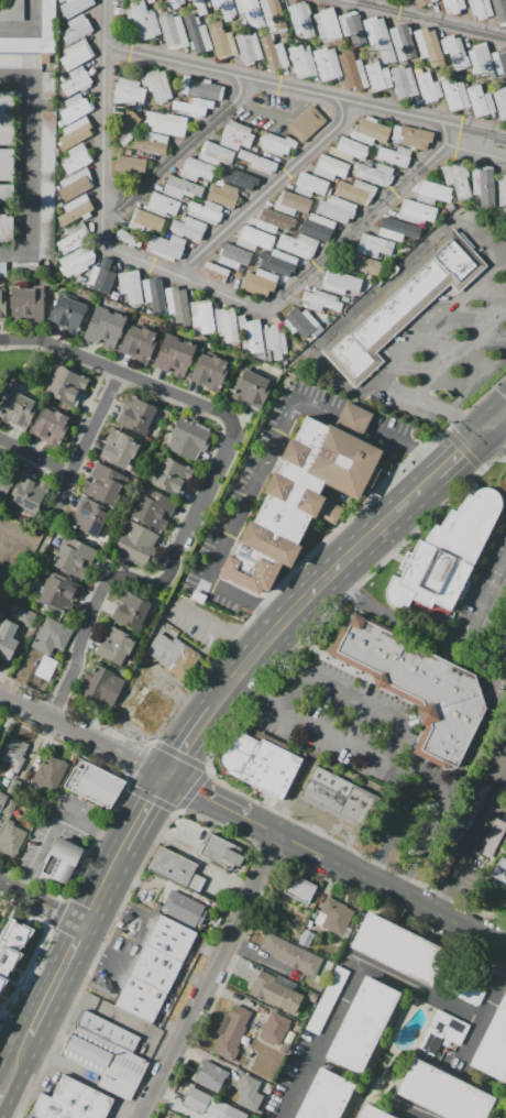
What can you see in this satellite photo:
building: (150, 1)
building: (424, 2)
building: (176, 3)
building: (453, 6)
building: (199, 7)
building: (74, 8)
building: (224, 8)
building: (481, 9)
building: (499, 10)
building: (250, 11)
building: (272, 14)
road: (422, 18)
building: (47, 19)
parking lot: (47, 19)
building: (300, 19)
building: (144, 21)
building: (327, 25)
road: (30, 28)
building: (76, 29)
building: (353, 29)
building: (173, 32)
building: (196, 34)
building: (380, 39)
building: (221, 40)
building: (402, 42)
building: (428, 46)
building: (248, 47)
building: (454, 52)
building: (273, 53)
building: (76, 55)
building: (481, 59)
building: (20, 61)
parking lot: (20, 61)
building: (300, 61)
building: (326, 63)
building: (499, 63)
building: (352, 70)
building: (377, 76)
building: (75, 80)
building: (403, 81)
road: (273, 84)
building: (48, 85)
parking lot: (48, 85)
building: (156, 86)
building: (428, 87)
building: (205, 90)
building: (128, 92)
building: (454, 94)
building: (501, 100)
building: (480, 101)
building: (193, 107)
building: (75, 108)
building: (5, 118)
building: (306, 123)
building: (165, 125)
building: (125, 128)
building: (78, 131)
building: (370, 131)
road: (485, 131)
road: (457, 133)
building: (235, 135)
building: (411, 136)
building: (152, 143)
building: (276, 143)
building: (348, 150)
road: (483, 150)
road: (179, 151)
building: (216, 153)
building: (393, 155)
building: (76, 158)
building: (257, 161)
building: (7, 164)
building: (130, 164)
road: (29, 165)
building: (330, 167)
building: (196, 169)
building: (374, 173)
building: (237, 178)
building: (457, 178)
building: (46, 185)
parking lot: (46, 185)
building: (75, 185)
building: (310, 185)
building: (483, 185)
building: (182, 188)
road: (269, 188)
building: (355, 191)
building: (7, 193)
building: (431, 193)
building: (502, 194)
building: (223, 195)
building: (162, 204)
building: (293, 204)
building: (335, 208)
building: (75, 209)
building: (205, 211)
building: (417, 211)
building: (146, 220)
building: (273, 220)
building: (187, 228)
building: (318, 228)
building: (396, 228)
building: (5, 230)
building: (74, 238)
building: (128, 238)
building: (254, 239)
building: (298, 245)
building: (373, 245)
building: (165, 246)
building: (233, 256)
building: (76, 261)
building: (277, 262)
building: (362, 264)
building: (2, 268)
parking lot: (2, 268)
building: (24, 268)
parking lot: (24, 268)
building: (215, 272)
building: (101, 277)
building: (81, 278)
road: (195, 281)
building: (340, 282)
building: (258, 284)
building: (131, 286)
road: (380, 288)
building: (154, 295)
building: (321, 300)
building: (26, 303)
building: (178, 304)
building: (400, 305)
building: (2, 306)
building: (67, 315)
building: (201, 317)
building: (300, 322)
road: (439, 322)
building: (226, 326)
building: (105, 328)
building: (250, 335)
parking lot: (452, 337)
building: (275, 341)
building: (137, 343)
road: (459, 353)
building: (174, 357)
building: (209, 372)
road: (476, 383)
building: (66, 386)
building: (252, 387)
road: (393, 391)
road: (429, 405)
building: (19, 409)
building: (137, 414)
building: (352, 419)
road: (464, 419)
road: (494, 419)
building: (52, 428)
road: (494, 436)
road: (85, 438)
building: (187, 438)
building: (119, 448)
road: (460, 448)
road: (34, 456)
road: (267, 457)
building: (172, 476)
building: (5, 481)
building: (102, 483)
road: (421, 483)
road: (208, 484)
building: (309, 487)
building: (29, 493)
parking lot: (240, 503)
building: (152, 507)
building: (90, 518)
building: (135, 544)
building: (446, 555)
building: (73, 557)
building: (58, 594)
road: (301, 596)
road: (482, 600)
building: (131, 611)
building: (26, 618)
road: (218, 626)
road: (408, 628)
building: (51, 636)
building: (7, 639)
building: (114, 645)
building: (172, 654)
road: (504, 660)
building: (46, 668)
building: (101, 686)
building: (417, 686)
road: (354, 699)
road: (201, 717)
road: (323, 727)
road: (82, 734)
parking lot: (363, 747)
building: (13, 752)
road: (178, 753)
building: (261, 764)
building: (50, 774)
traffic signals: (165, 778)
building: (94, 785)
building: (334, 796)
road: (206, 797)
building: (2, 799)
building: (475, 800)
road: (148, 804)
building: (9, 809)
road: (58, 820)
parking lot: (75, 821)
road: (394, 829)
road: (427, 829)
road: (166, 835)
parking lot: (186, 837)
building: (492, 837)
building: (11, 838)
road: (128, 841)
road: (472, 845)
building: (221, 852)
building: (450, 853)
building: (61, 862)
building: (173, 866)
building: (497, 877)
road: (375, 883)
road: (105, 888)
building: (299, 889)
road: (43, 903)
building: (183, 909)
building: (334, 916)
building: (169, 939)
building: (306, 939)
building: (13, 949)
parking lot: (121, 952)
building: (293, 955)
building: (420, 960)
road: (370, 965)
road: (64, 968)
building: (155, 968)
road: (24, 972)
road: (212, 976)
building: (275, 991)
building: (140, 999)
road: (116, 1017)
road: (37, 1021)
building: (362, 1024)
building: (450, 1026)
building: (274, 1029)
building: (230, 1033)
building: (493, 1045)
building: (106, 1053)
road: (19, 1059)
building: (210, 1076)
parking lot: (48, 1079)
road: (2, 1093)
building: (249, 1093)
building: (442, 1093)
building: (324, 1096)
building: (71, 1101)
building: (204, 1103)
road: (175, 1106)
building: (232, 1112)
building: (371, 1112)
road: (415, 1112)
building: (28, 1117)
building: (173, 1117)

